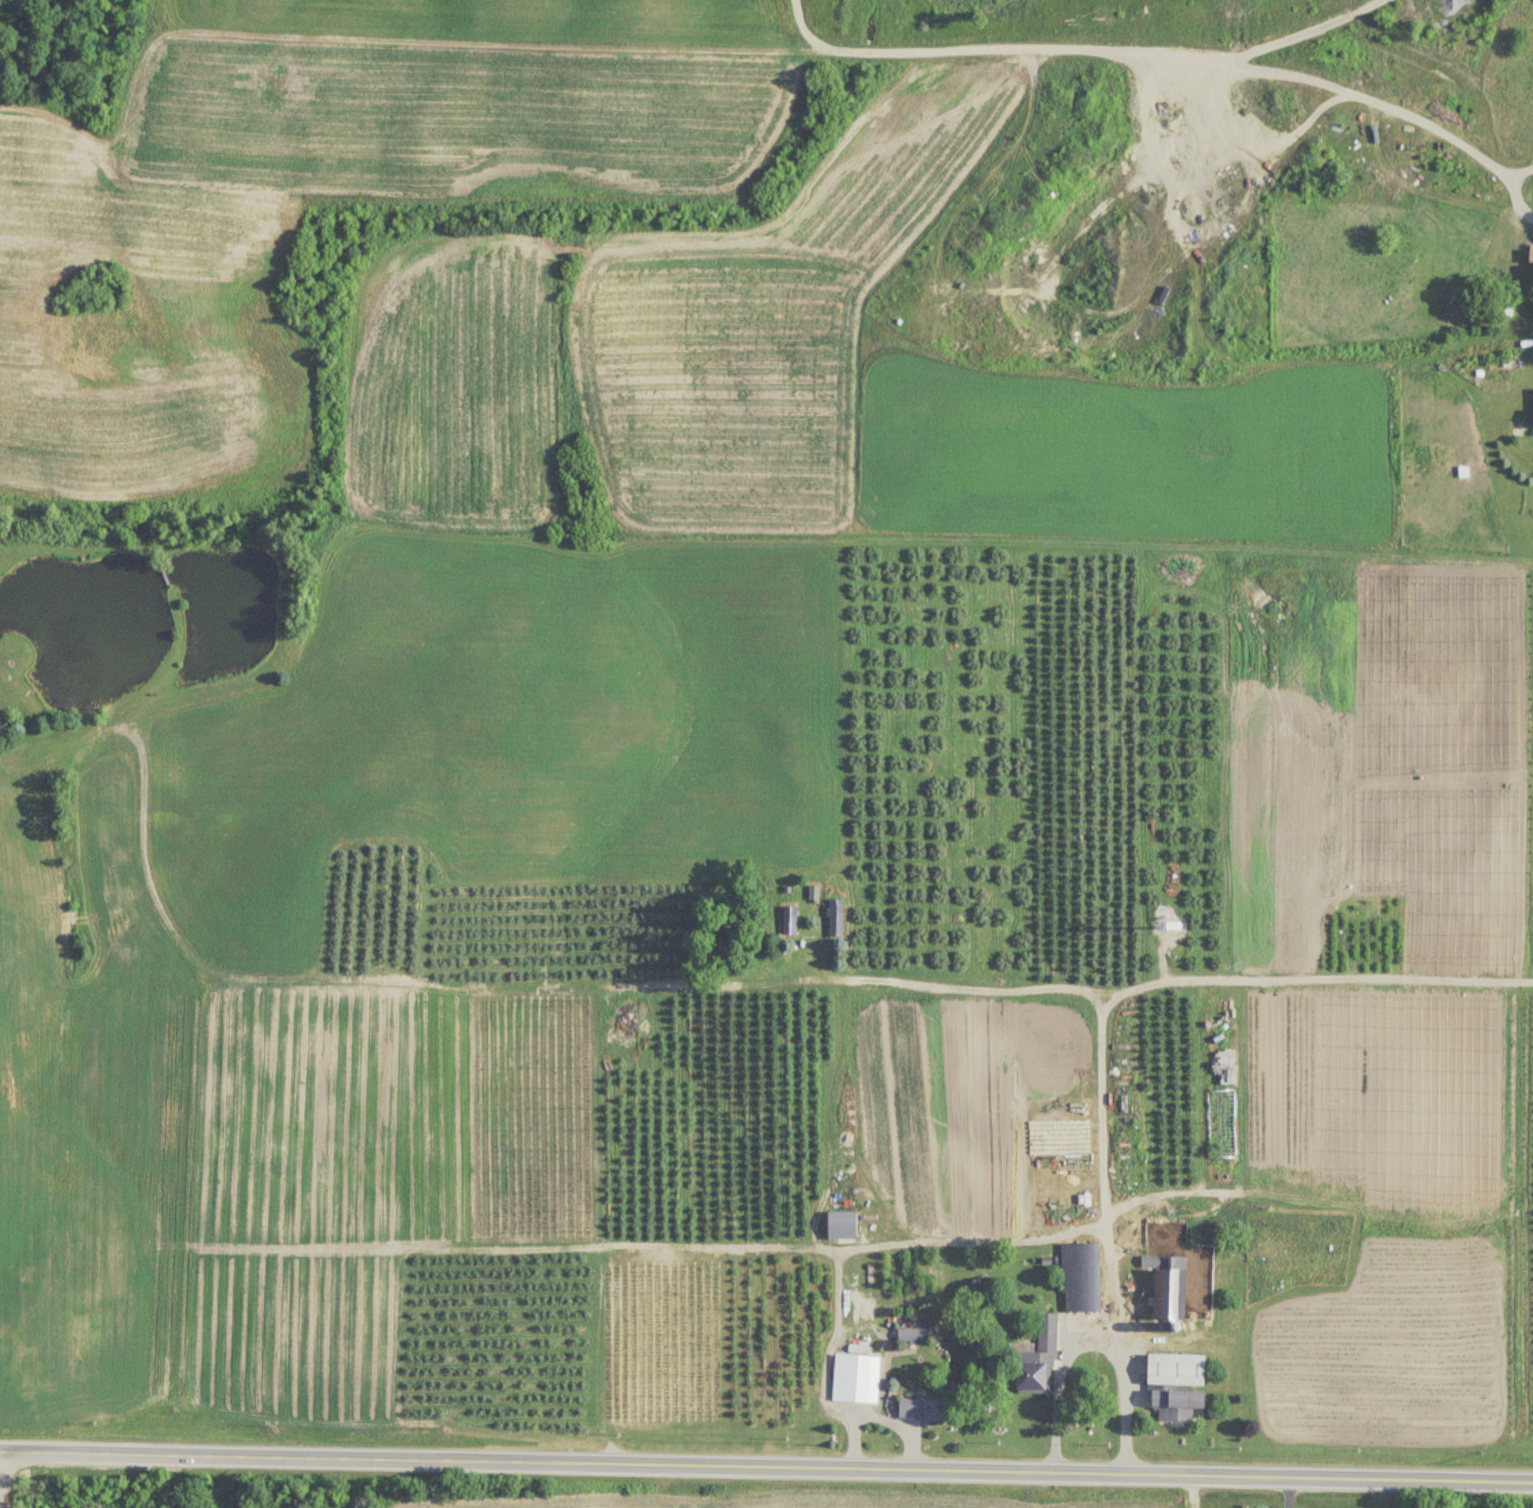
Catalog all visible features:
road: (1307, 32)
road: (1175, 56)
building: (1532, 256)
building: (815, 894)
building: (790, 921)
building: (837, 923)
building: (1174, 927)
road: (1145, 987)
road: (984, 991)
building: (1222, 1124)
building: (1128, 1152)
building: (843, 1226)
road: (883, 1245)
building: (1082, 1279)
building: (1169, 1288)
building: (912, 1336)
road: (1095, 1337)
building: (1038, 1362)
building: (1177, 1372)
building: (857, 1380)
building: (1180, 1407)
building: (921, 1411)
road: (878, 1416)
road: (766, 1468)
quarry: (182, 1493)
road: (1, 1496)

